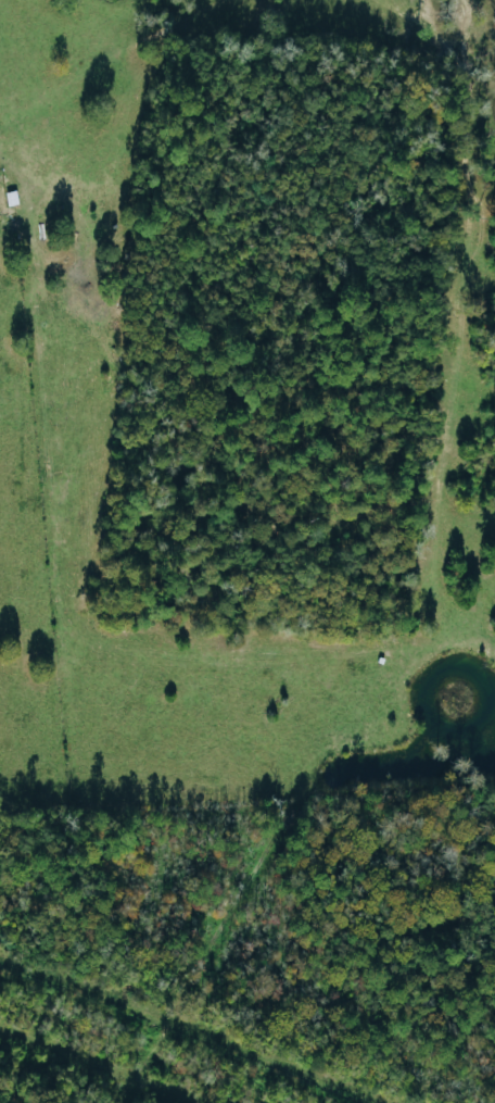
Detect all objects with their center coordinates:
road: (306, 110)
building: (11, 199)

